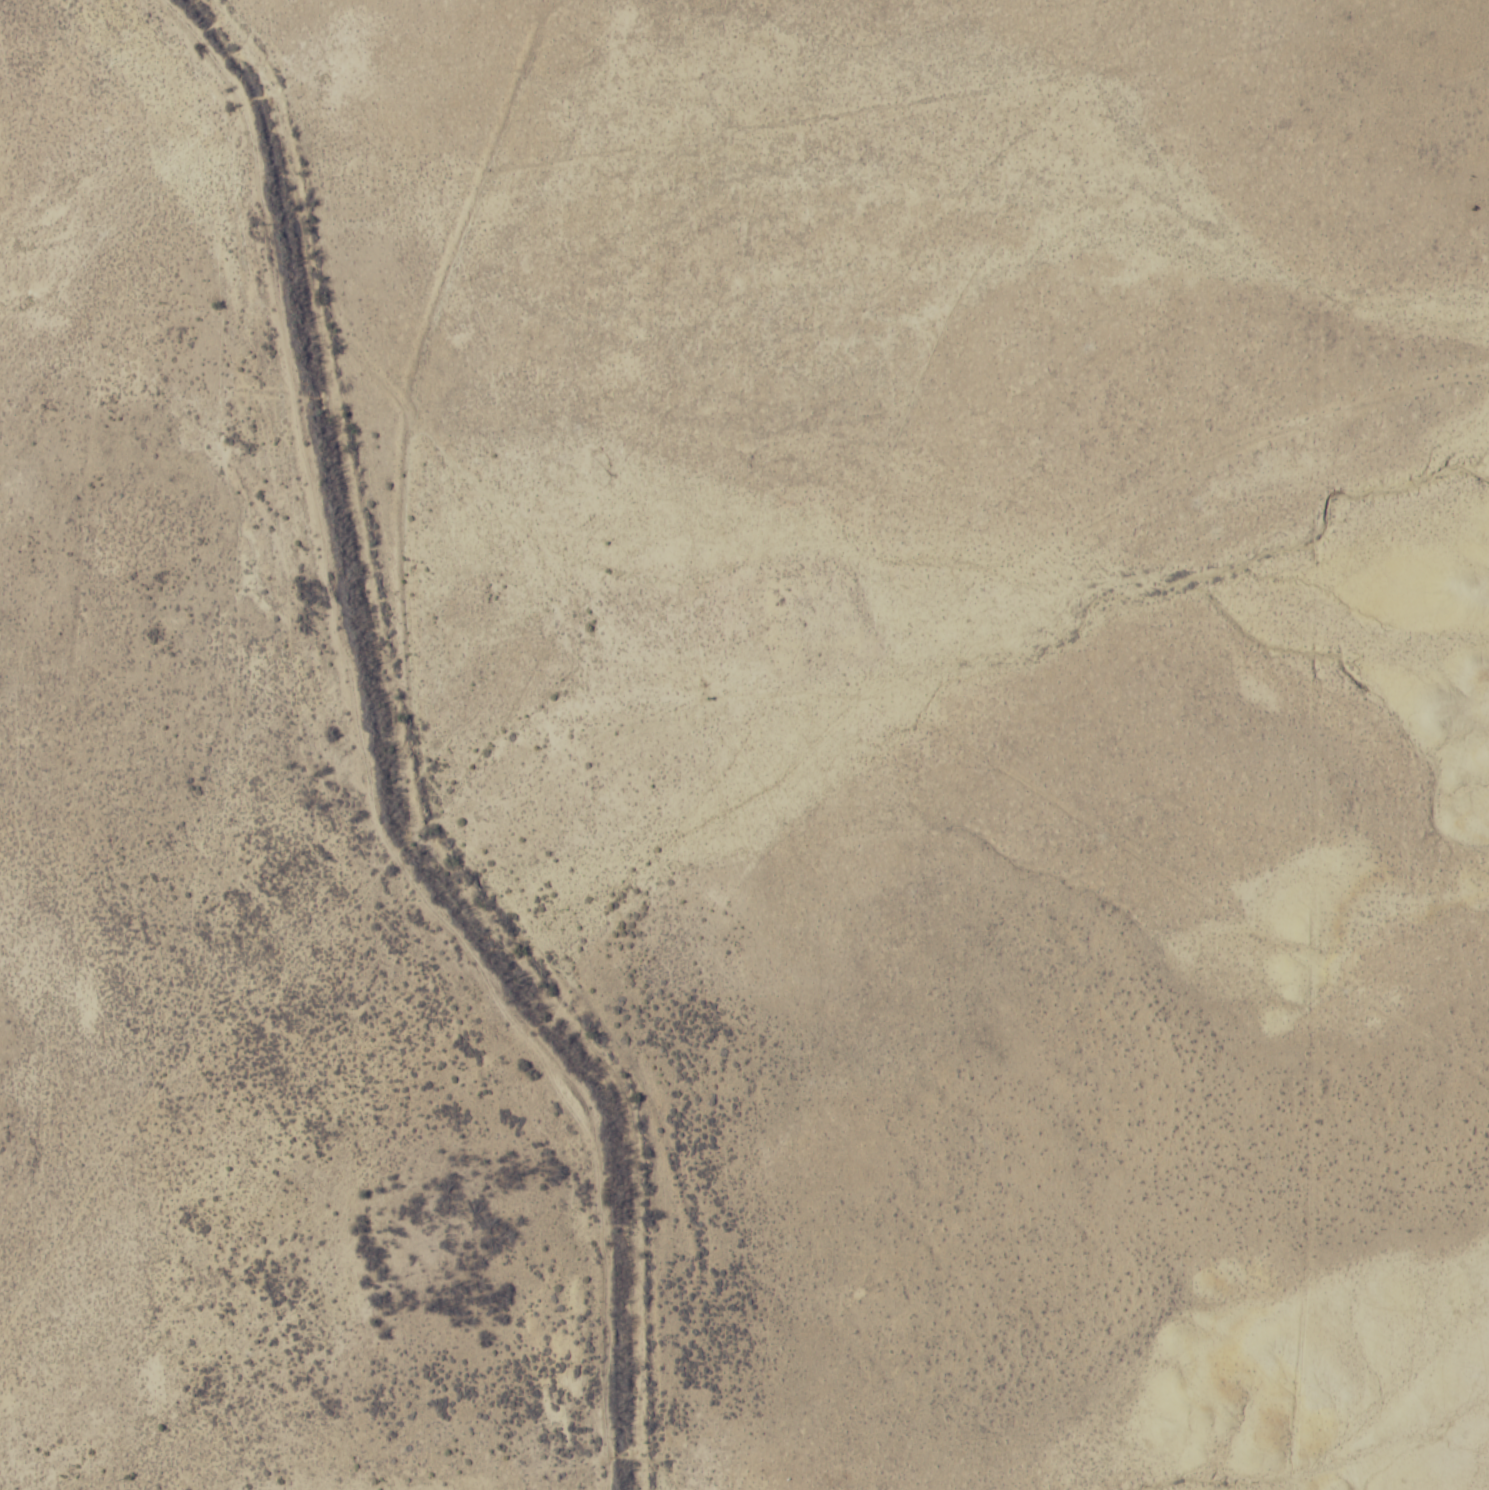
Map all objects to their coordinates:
road: (495, 757)

